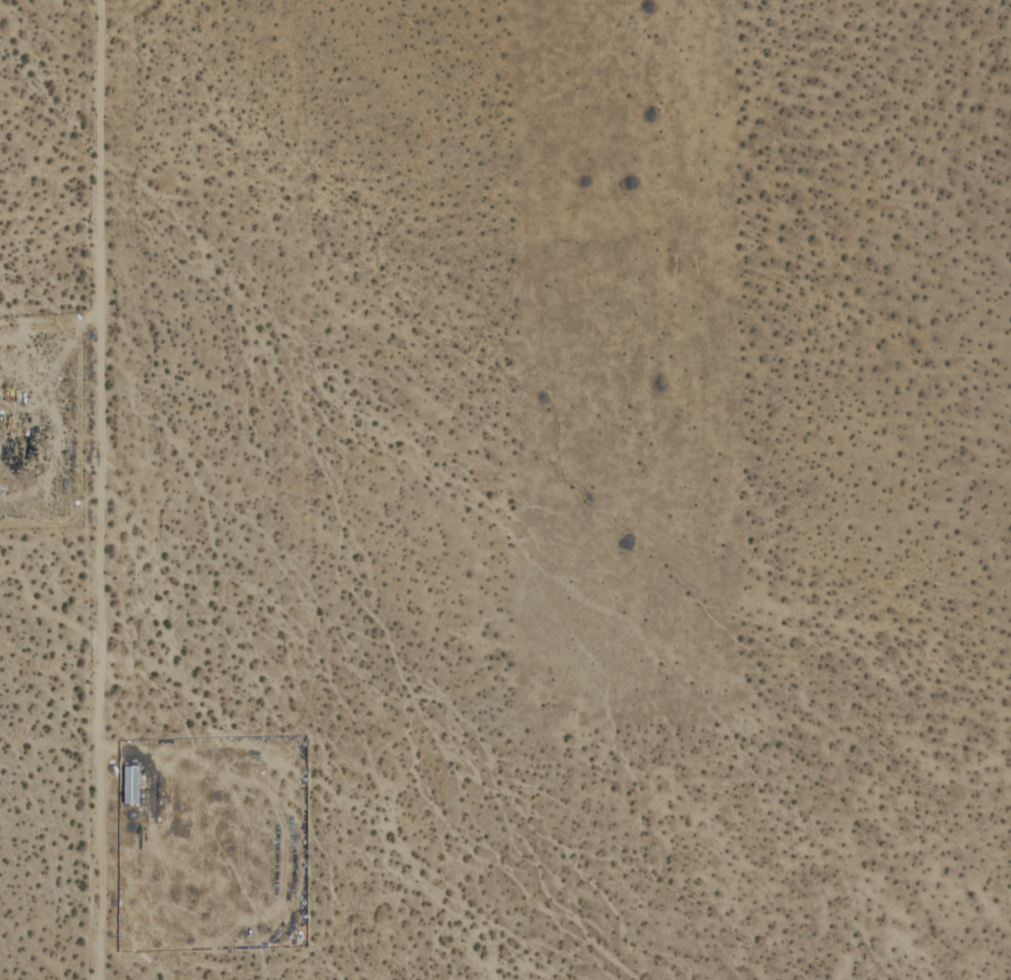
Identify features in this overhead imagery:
road: (95, 489)

